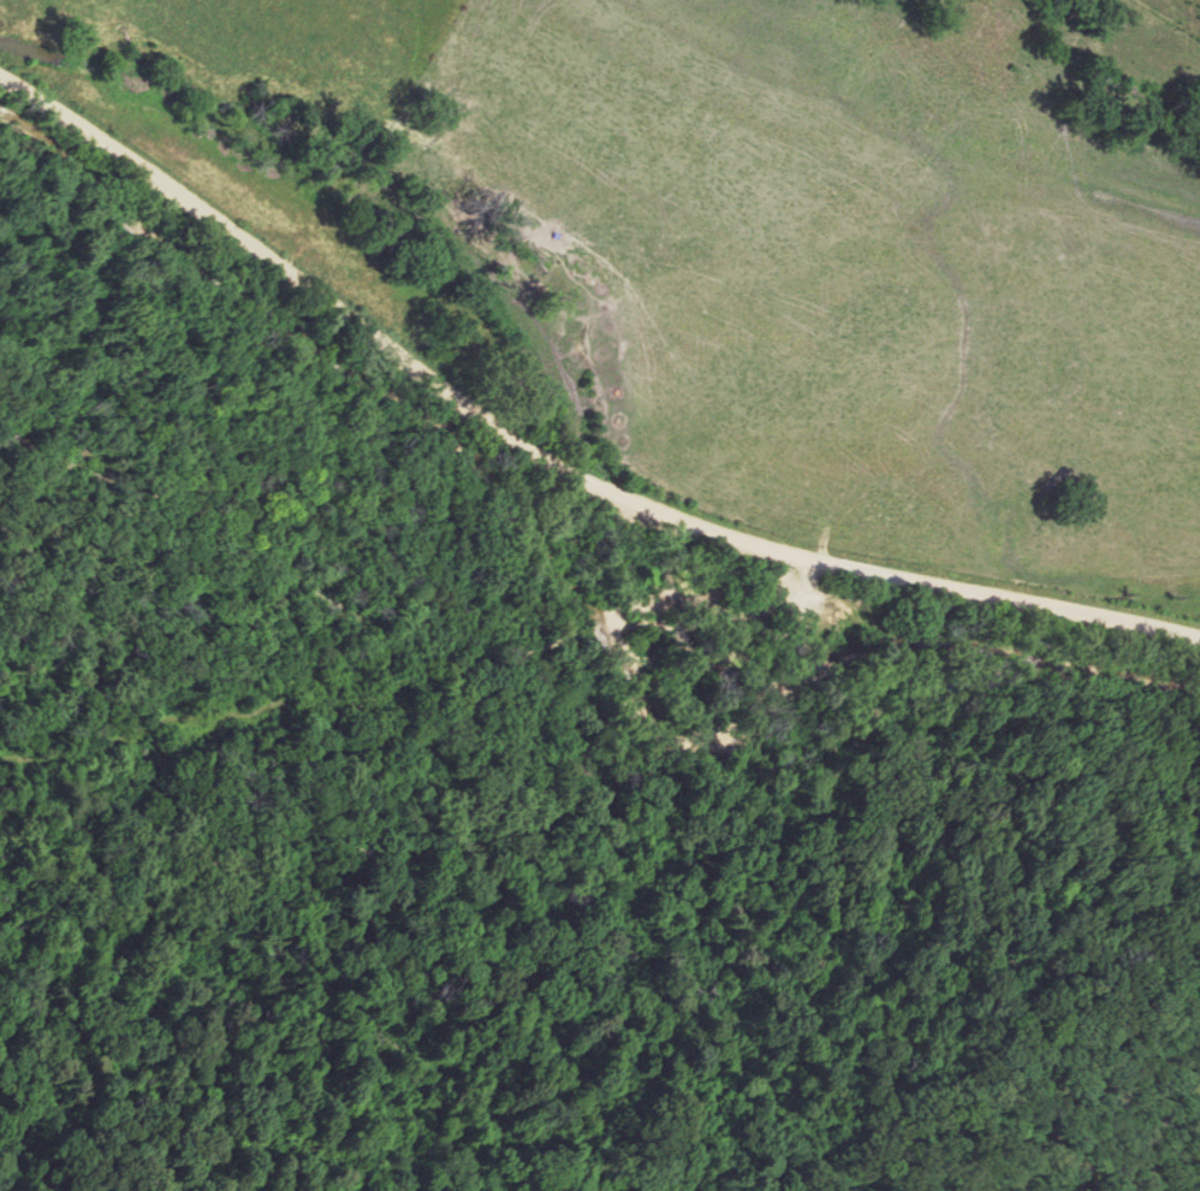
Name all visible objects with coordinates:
road: (547, 472)

